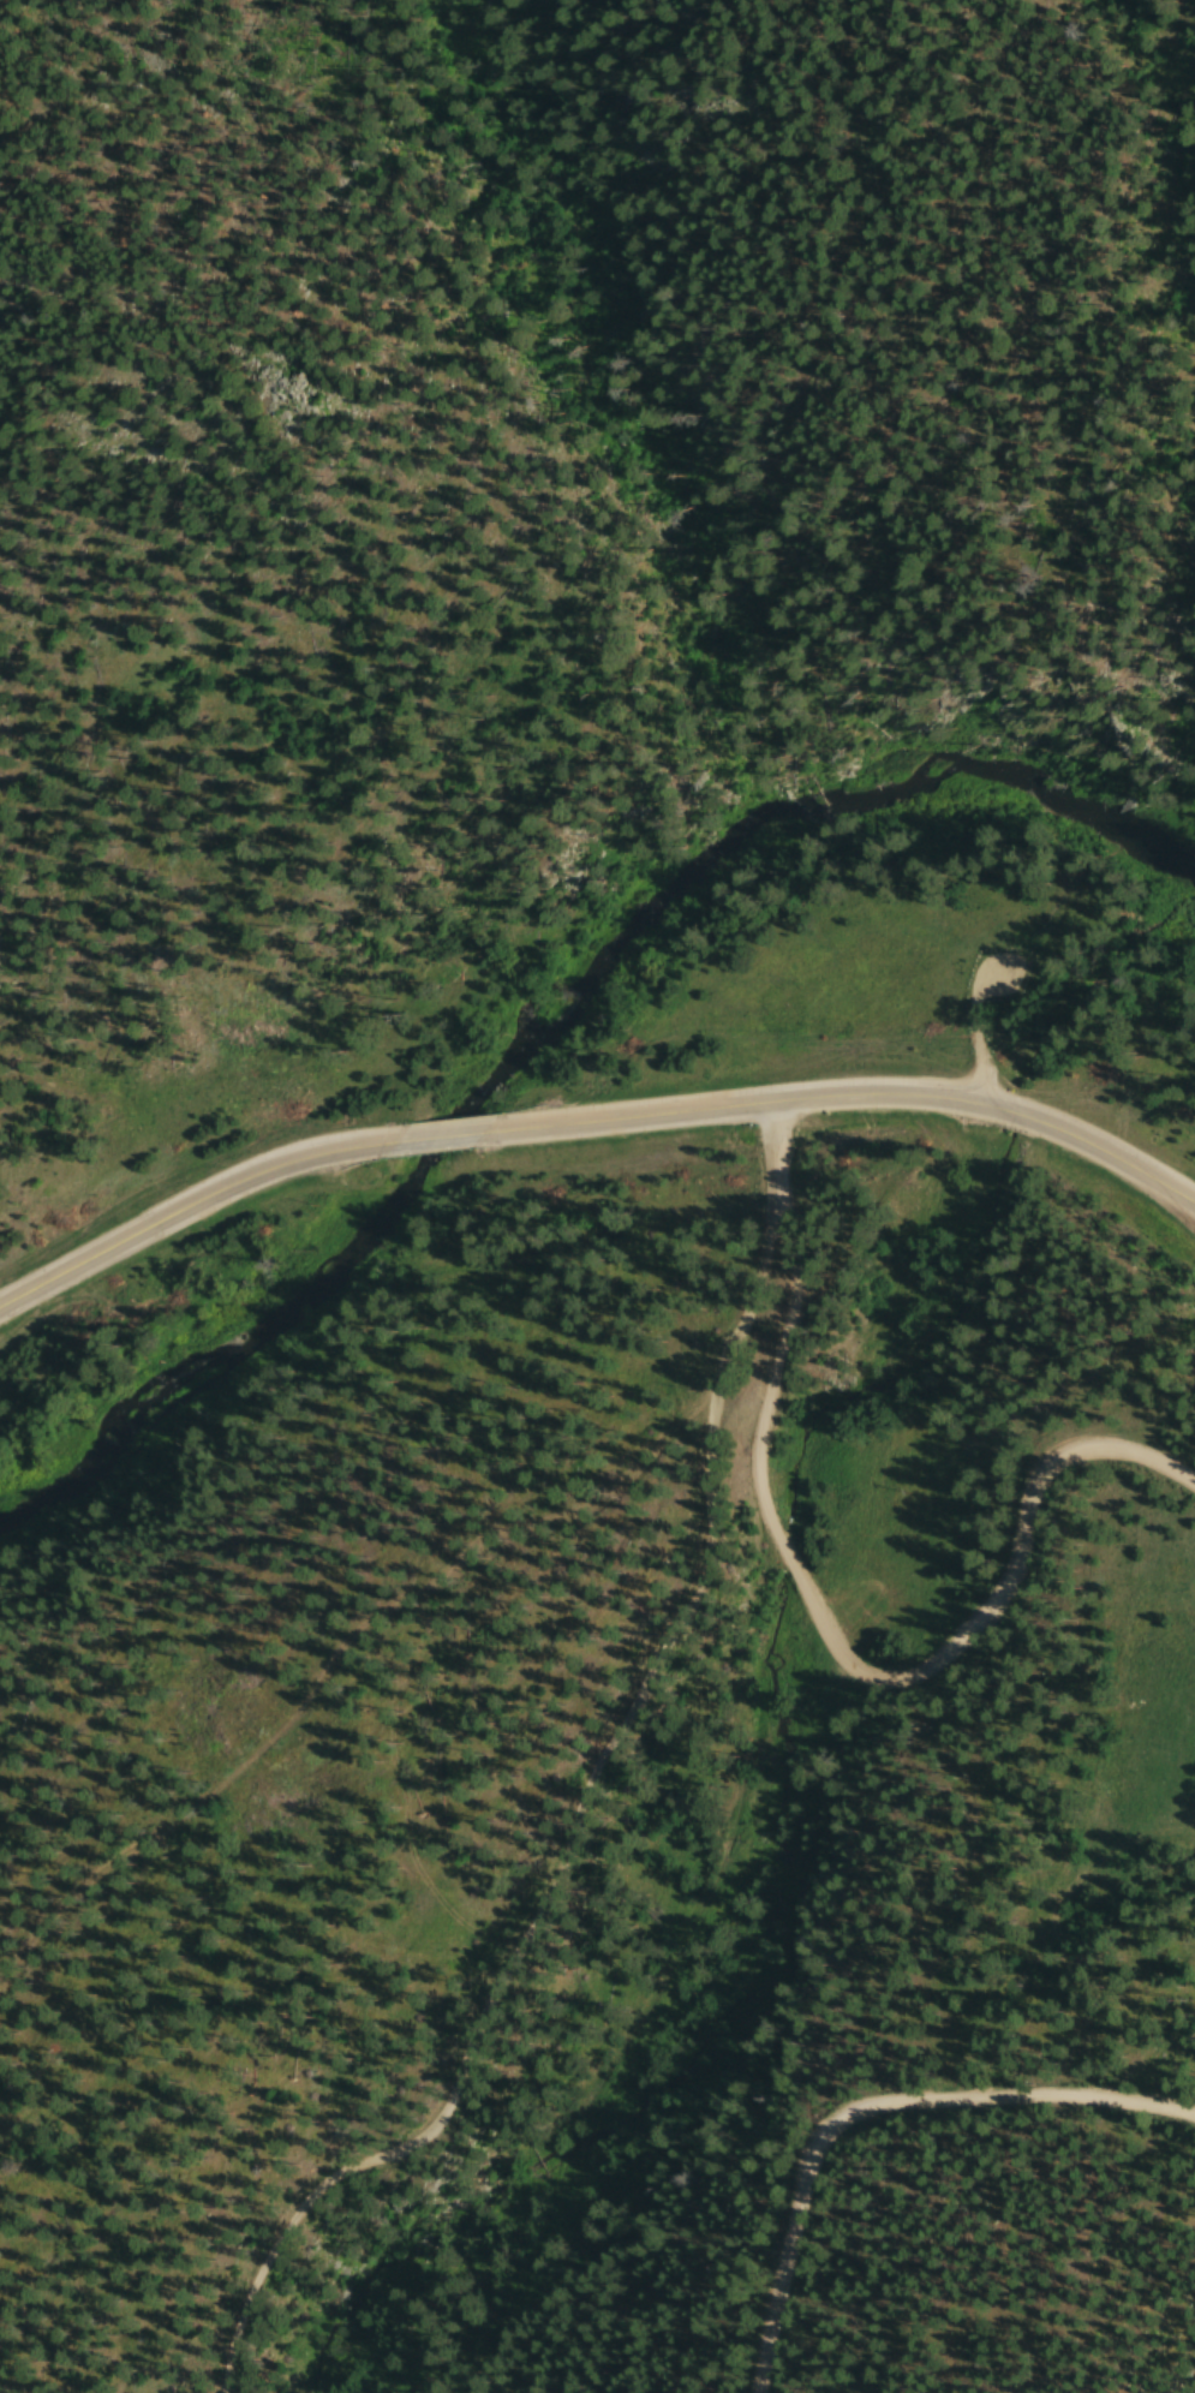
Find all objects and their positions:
road: (850, 1102)
road: (441, 1144)
road: (192, 1213)
road: (820, 1627)
road: (574, 1833)
road: (876, 2114)

